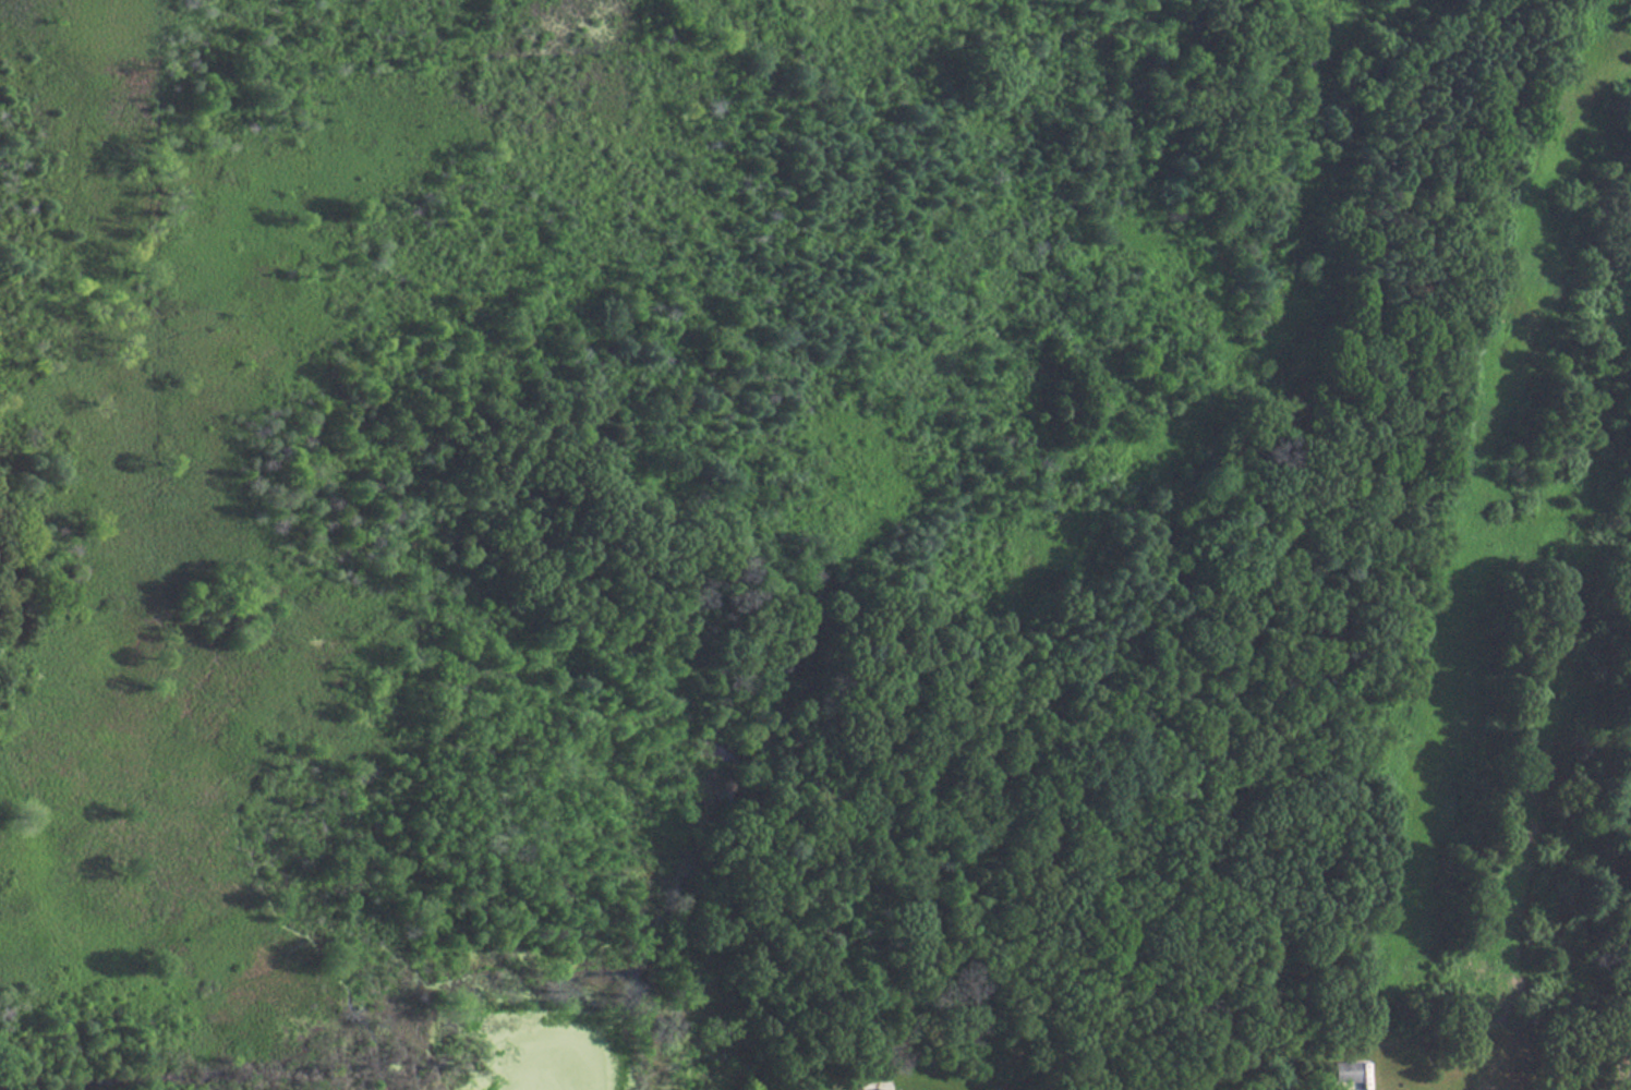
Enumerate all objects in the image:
park: (867, 358)
road: (1618, 1061)
building: (1344, 1071)
building: (884, 1088)

